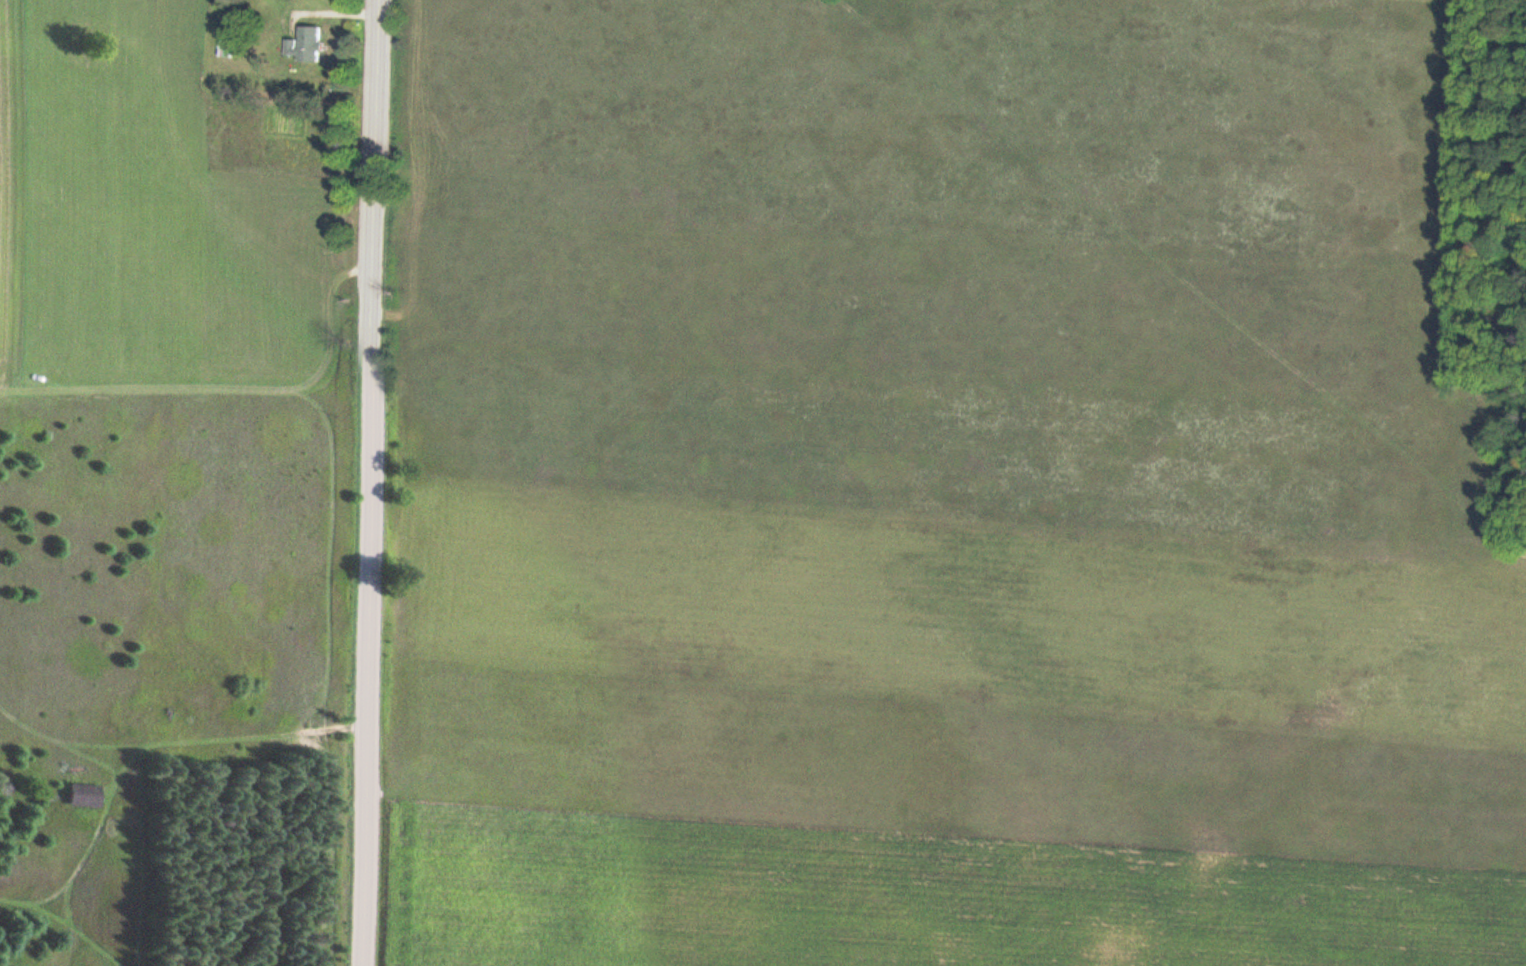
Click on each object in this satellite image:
building: (229, 41)
building: (305, 43)
road: (373, 483)
building: (82, 794)

